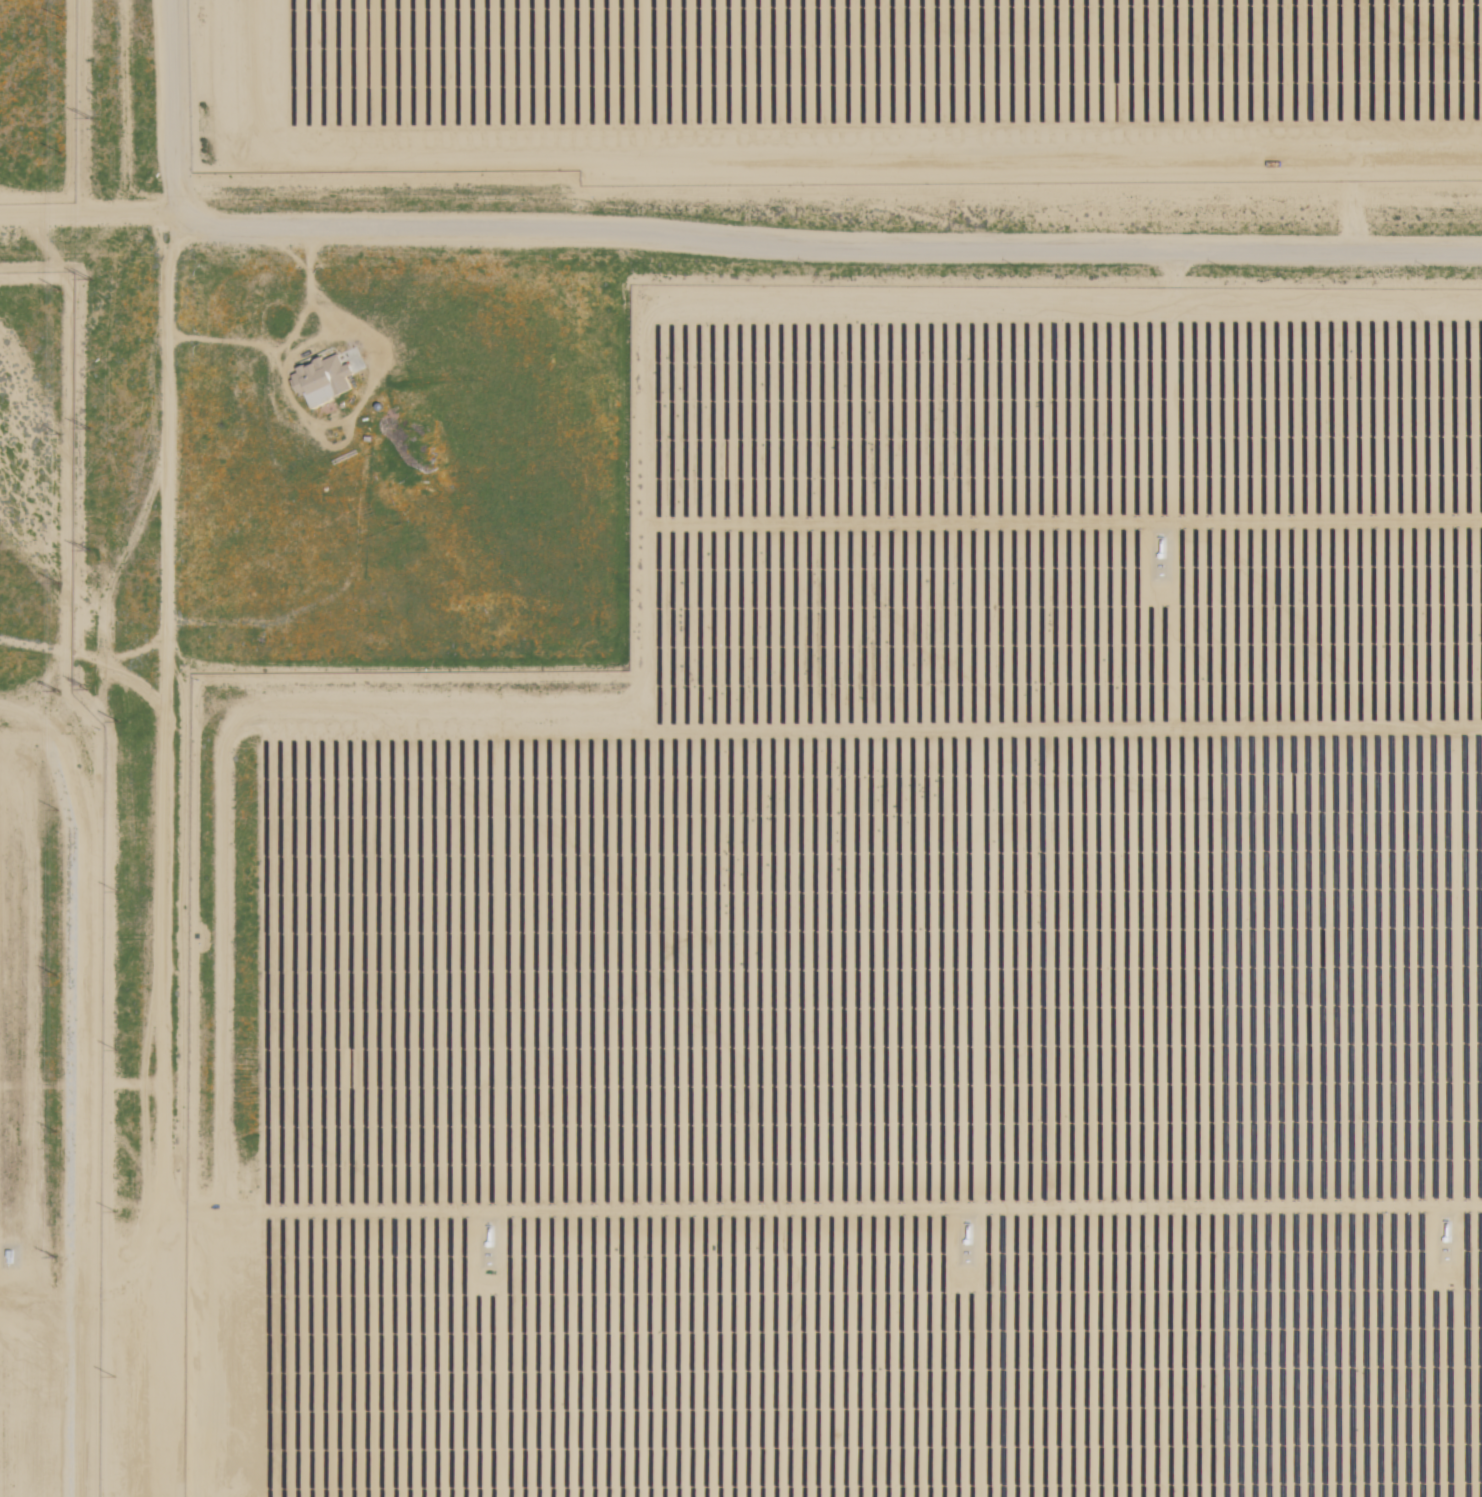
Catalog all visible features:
solar farm: (844, 90)
solar farm: (38, 101)
road: (172, 106)
road: (389, 225)
road: (1130, 250)
building: (321, 380)
road: (168, 853)
solar farm: (48, 940)
solar farm: (889, 941)

